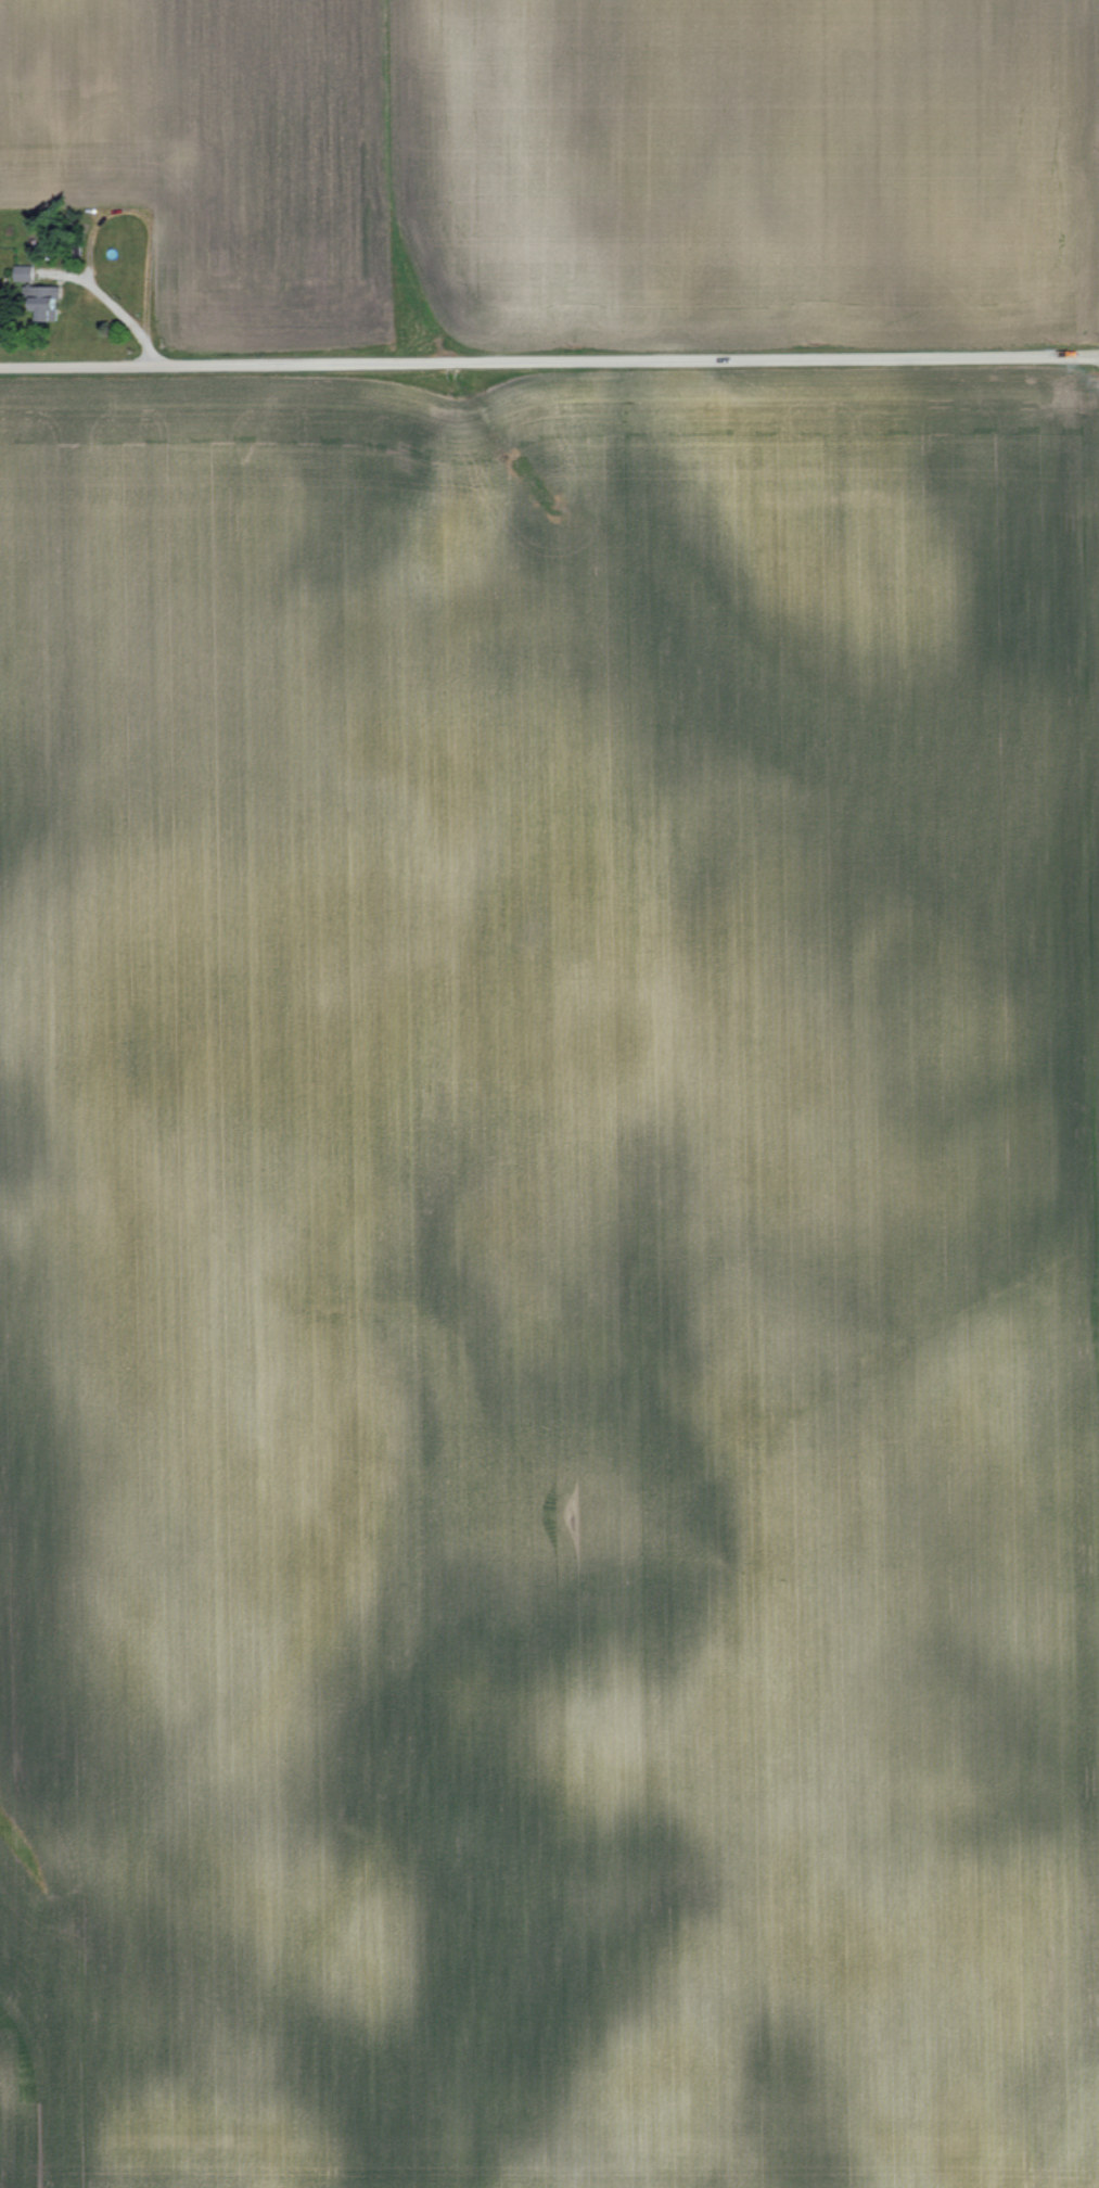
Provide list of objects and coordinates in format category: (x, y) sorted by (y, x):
building: (20, 272)
building: (39, 301)
road: (549, 361)

